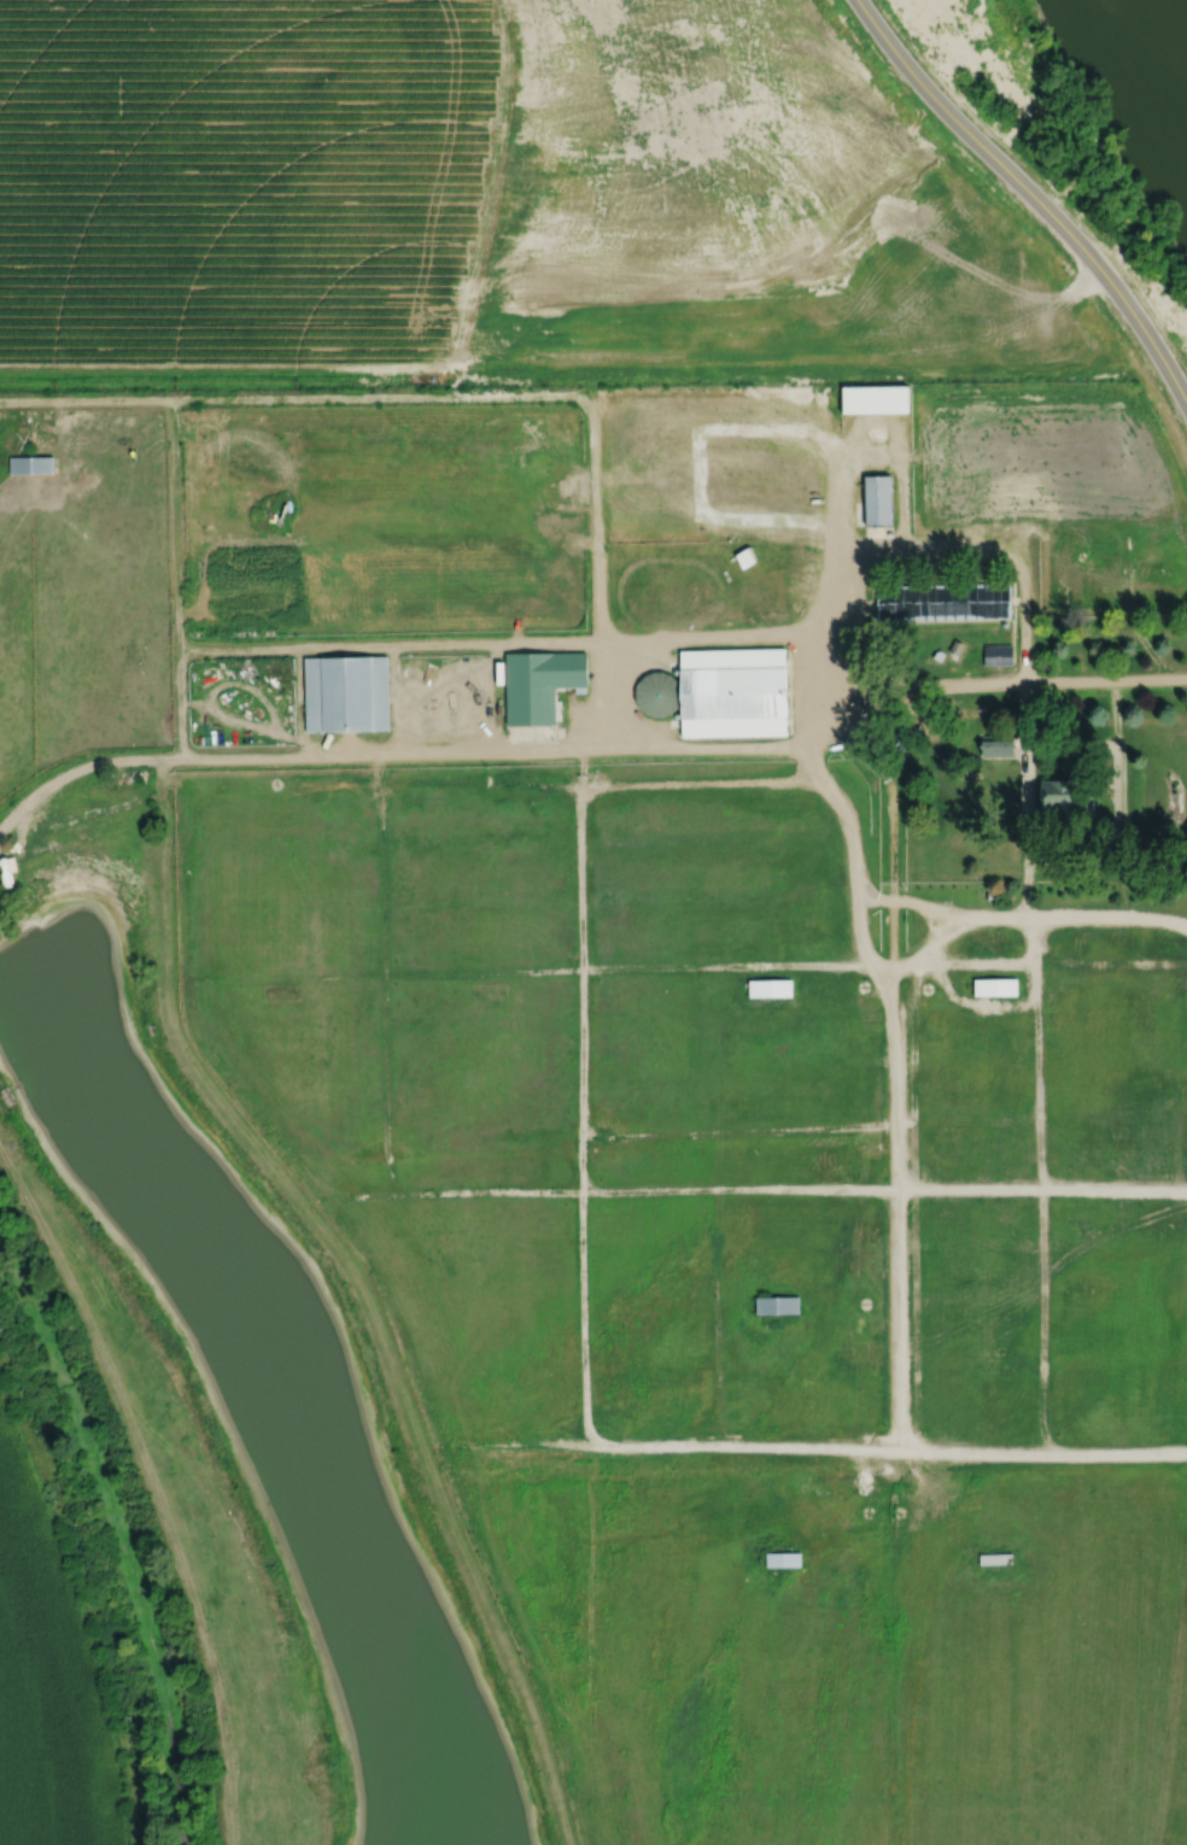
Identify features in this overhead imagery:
river: (1183, 2)
road: (1031, 194)
crop: (490, 203)
road: (466, 394)
building: (873, 397)
building: (310, 445)
building: (31, 464)
building: (877, 498)
road: (1063, 525)
road: (1128, 539)
road: (90, 541)
building: (744, 556)
road: (177, 578)
building: (581, 591)
road: (1023, 598)
building: (943, 601)
building: (315, 609)
road: (742, 634)
road: (387, 644)
building: (865, 646)
building: (939, 654)
building: (996, 654)
building: (893, 670)
building: (540, 684)
building: (733, 692)
building: (346, 693)
building: (657, 693)
road: (396, 698)
road: (300, 701)
building: (901, 736)
road: (1072, 744)
building: (996, 745)
road: (608, 746)
building: (999, 760)
road: (809, 762)
road: (188, 789)
road: (1118, 796)
building: (1065, 797)
road: (1080, 857)
road: (187, 880)
road: (923, 904)
road: (1062, 914)
road: (559, 968)
road: (384, 973)
building: (994, 984)
building: (767, 985)
road: (977, 1003)
road: (896, 1277)
road: (361, 1290)
building: (776, 1304)
road: (516, 1440)
road: (739, 1442)
road: (1116, 1451)
road: (152, 1486)
road: (467, 1503)
building: (999, 1556)
building: (780, 1559)
crop: (48, 1677)
road: (883, 1796)

